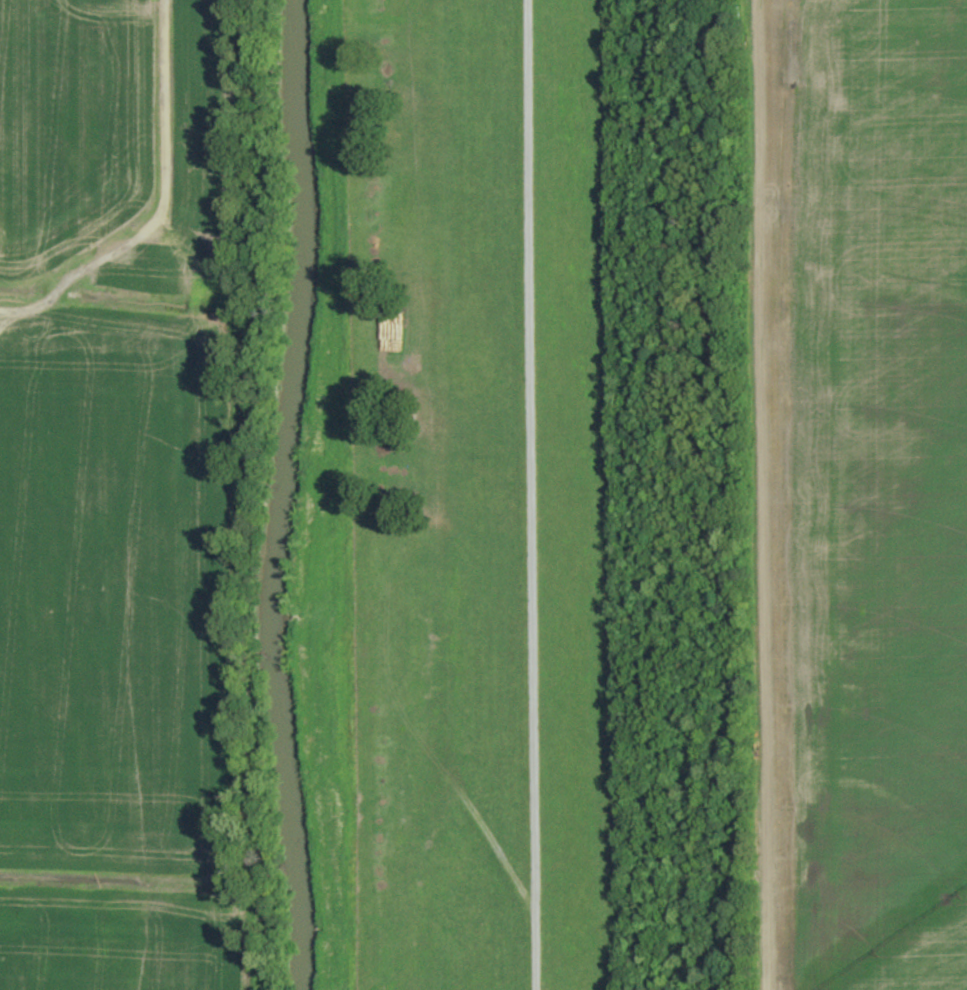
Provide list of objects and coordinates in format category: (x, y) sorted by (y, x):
road: (159, 204)
road: (533, 495)
road: (762, 495)

